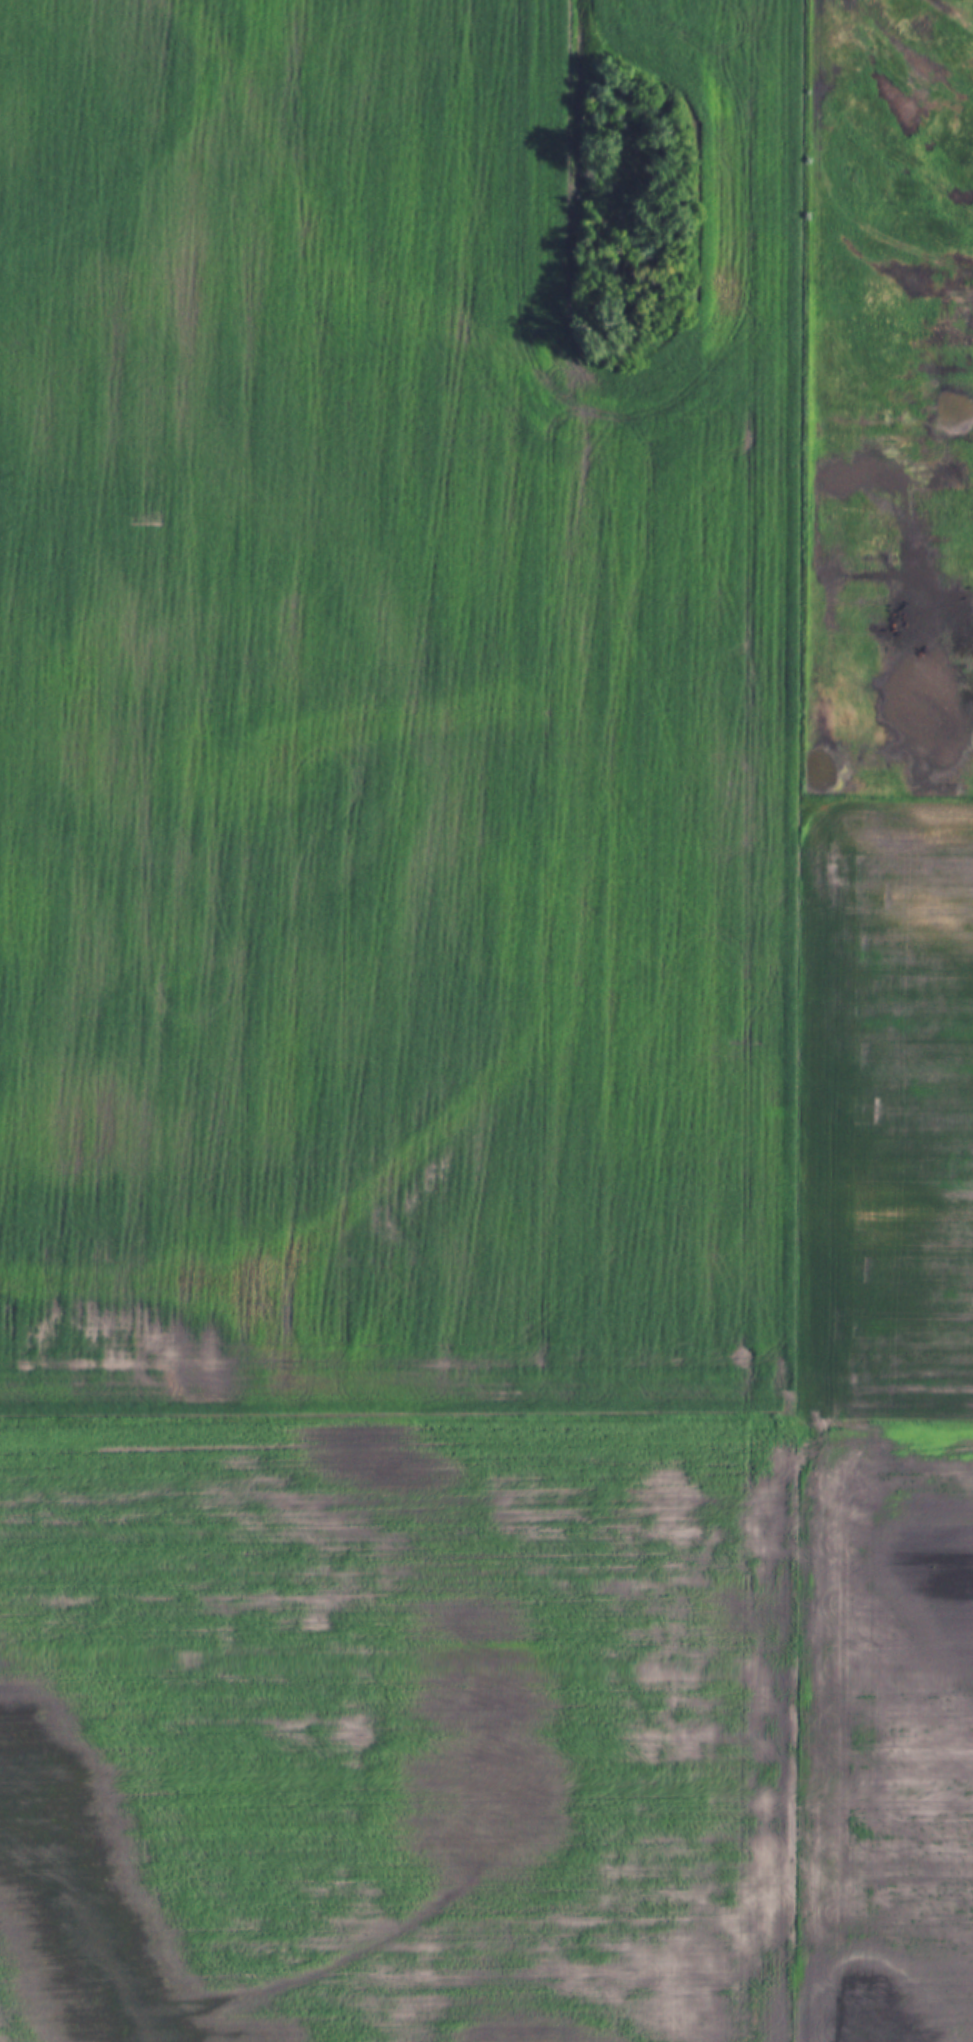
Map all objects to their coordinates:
crop: (395, 1017)
crop: (881, 1034)

